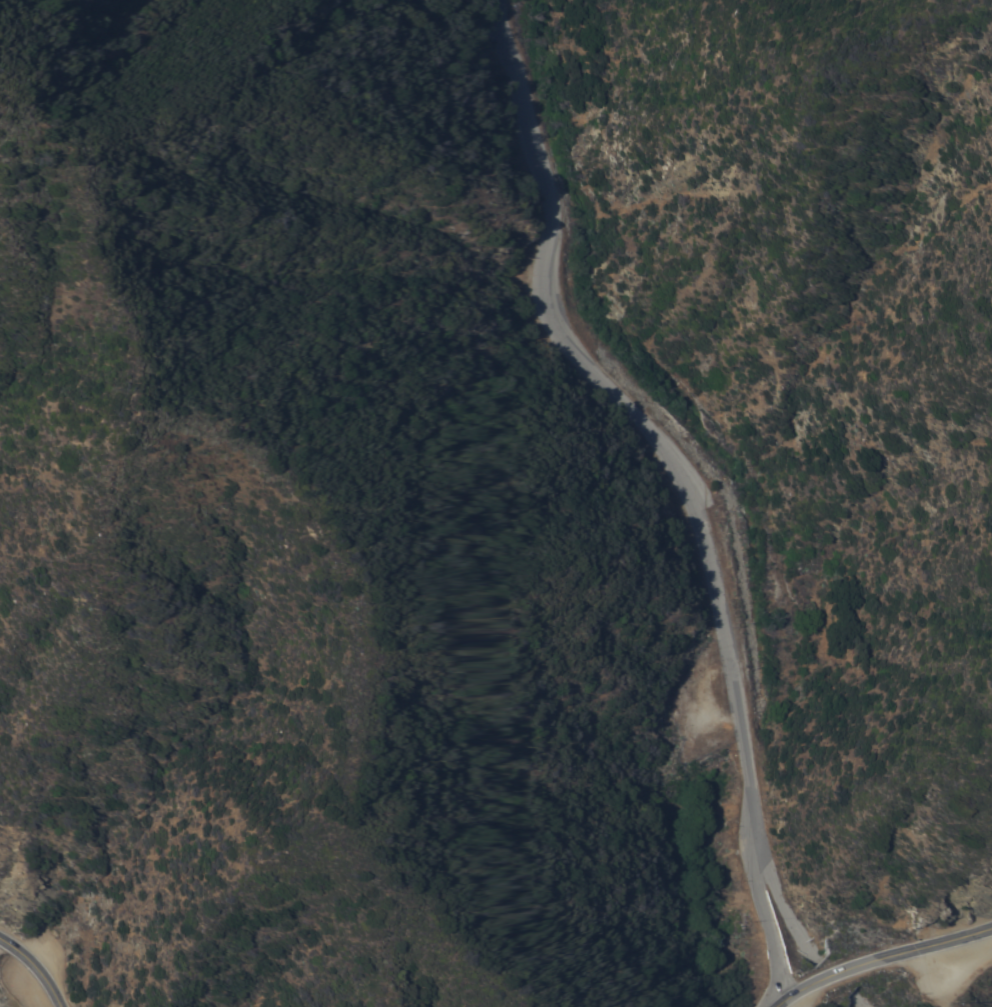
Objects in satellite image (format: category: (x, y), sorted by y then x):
road: (675, 483)
road: (773, 882)
road: (879, 957)
road: (35, 969)
road: (858, 998)

